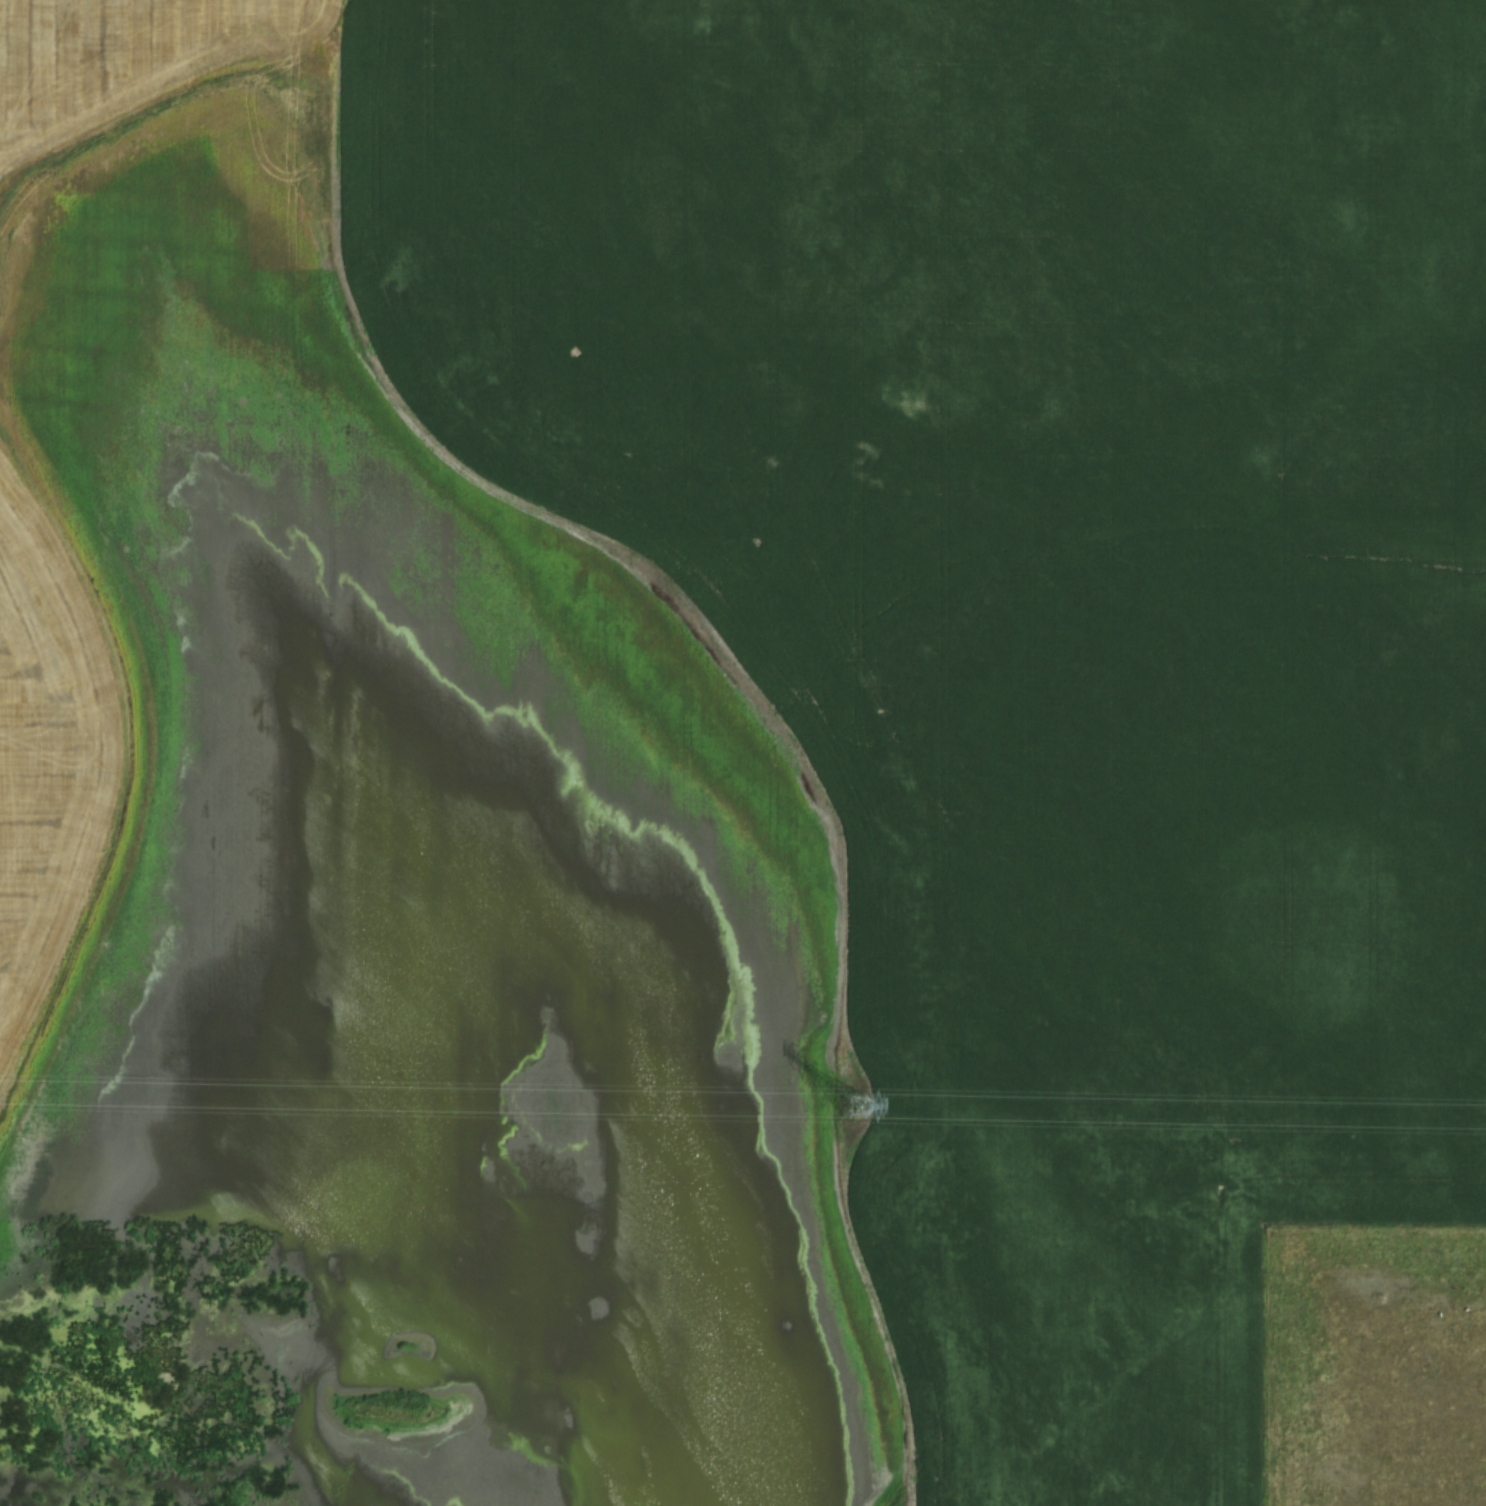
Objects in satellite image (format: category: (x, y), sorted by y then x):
power tower: (856, 1107)

